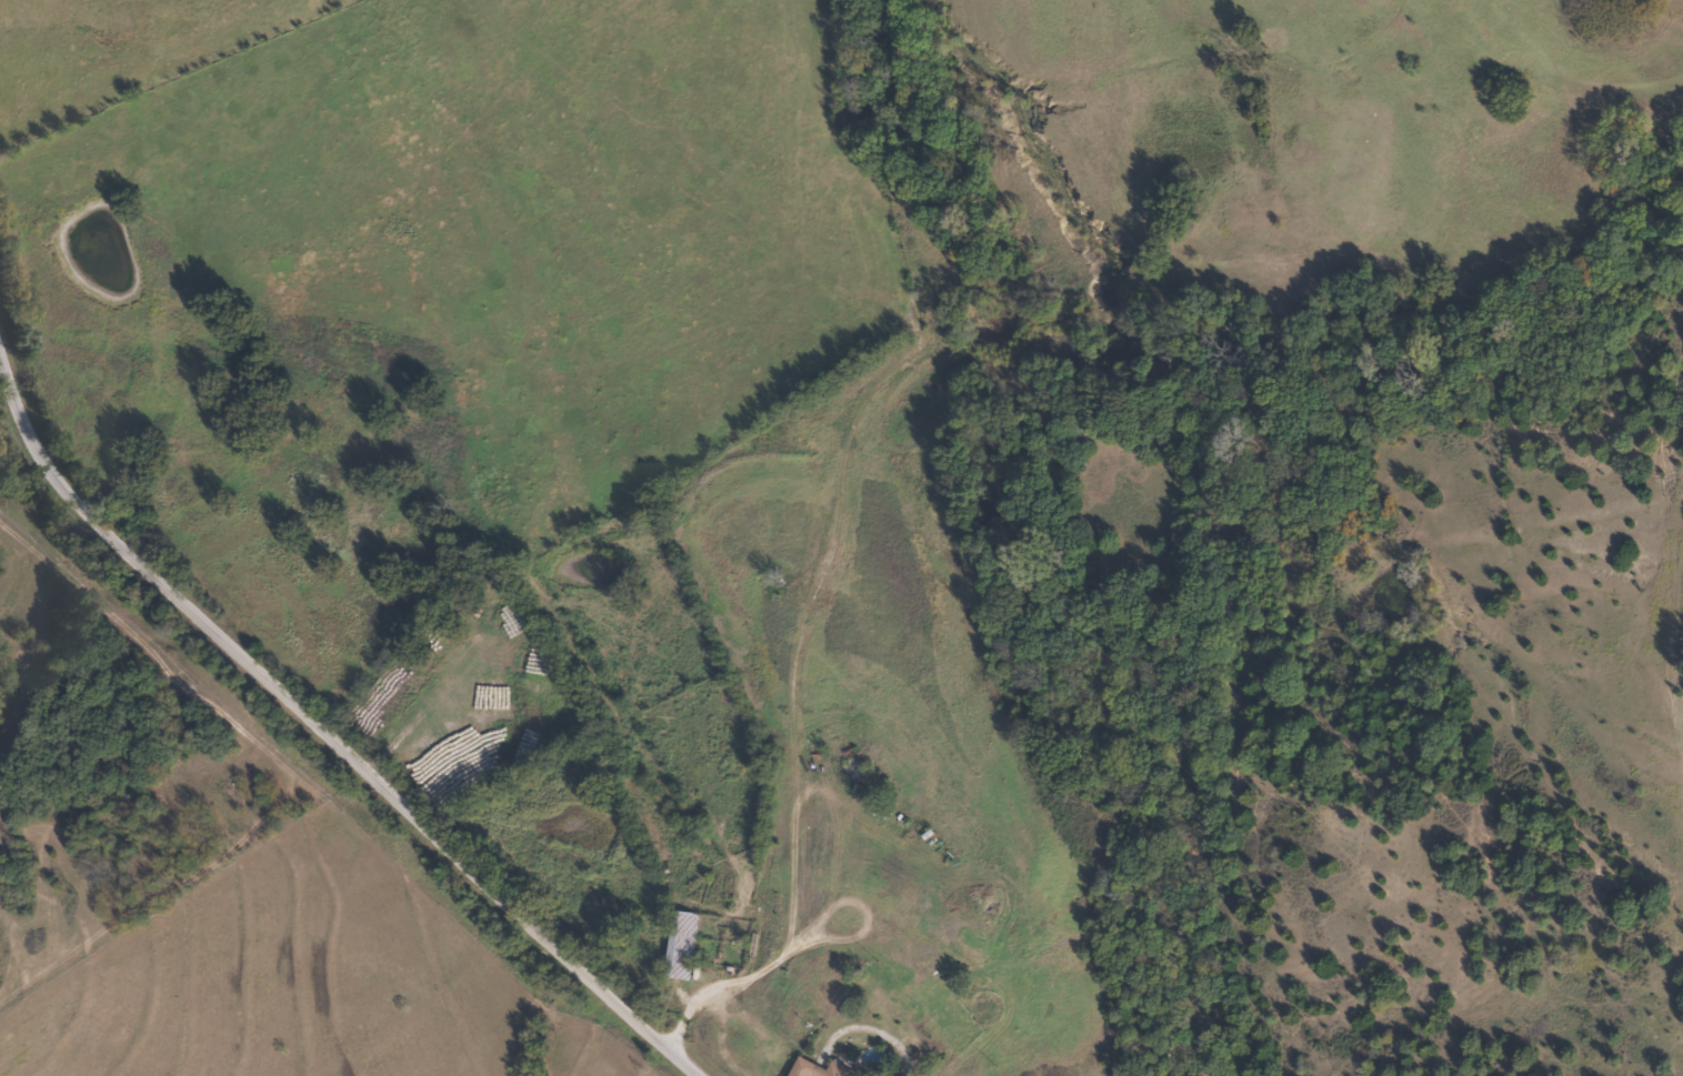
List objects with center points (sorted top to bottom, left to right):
road: (318, 730)
building: (575, 737)
building: (688, 944)
building: (824, 1069)

